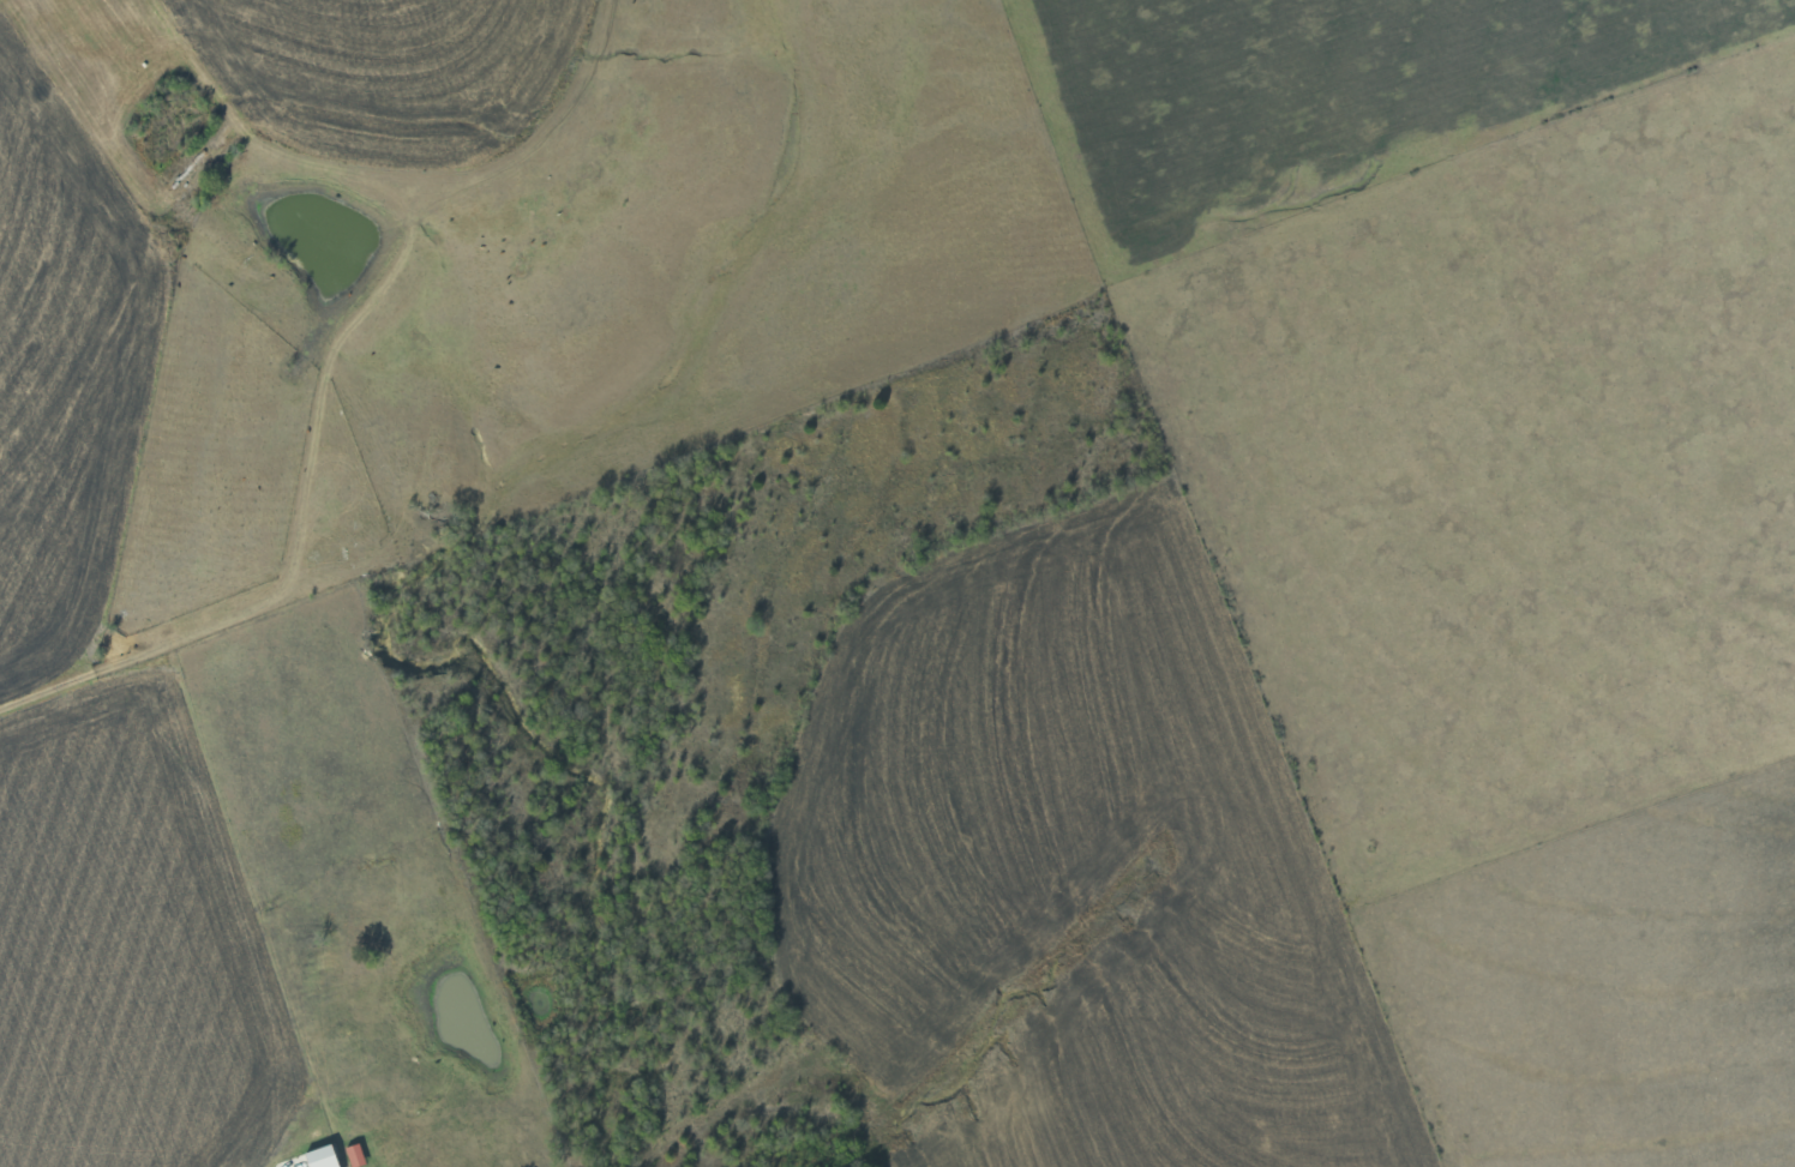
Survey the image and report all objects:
building: (355, 1154)
building: (322, 1157)

